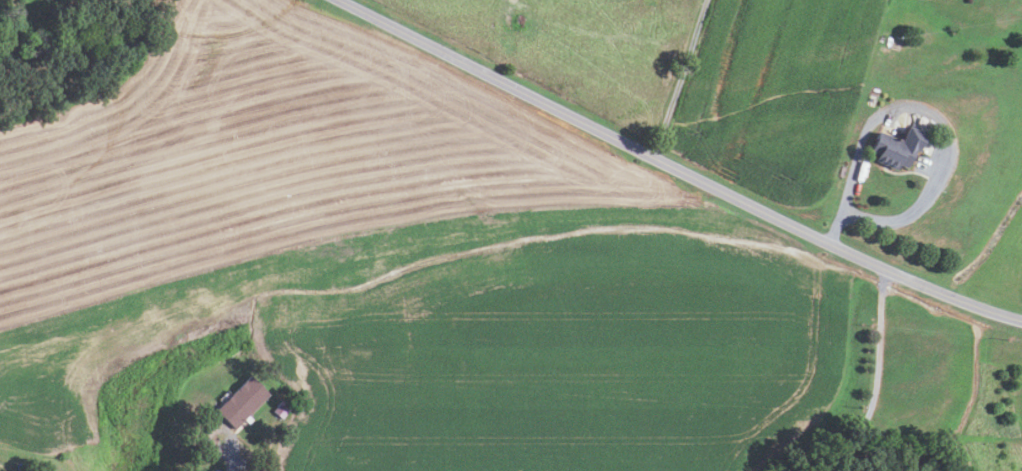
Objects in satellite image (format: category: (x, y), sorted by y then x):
road: (680, 78)
crop: (775, 92)
road: (927, 111)
building: (897, 147)
road: (677, 168)
crop: (416, 258)
road: (876, 367)
crop: (91, 384)
building: (241, 402)
road: (233, 457)

